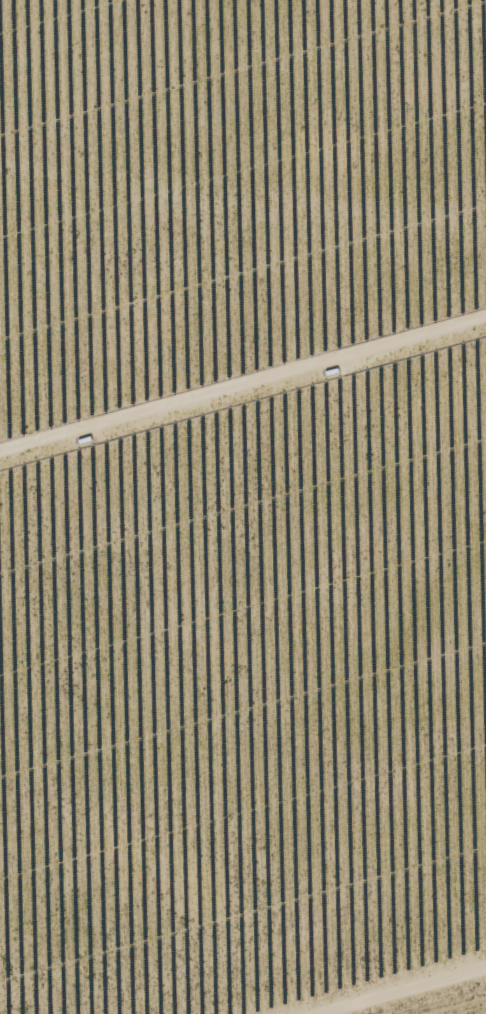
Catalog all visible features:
solar farm: (242, 505)

